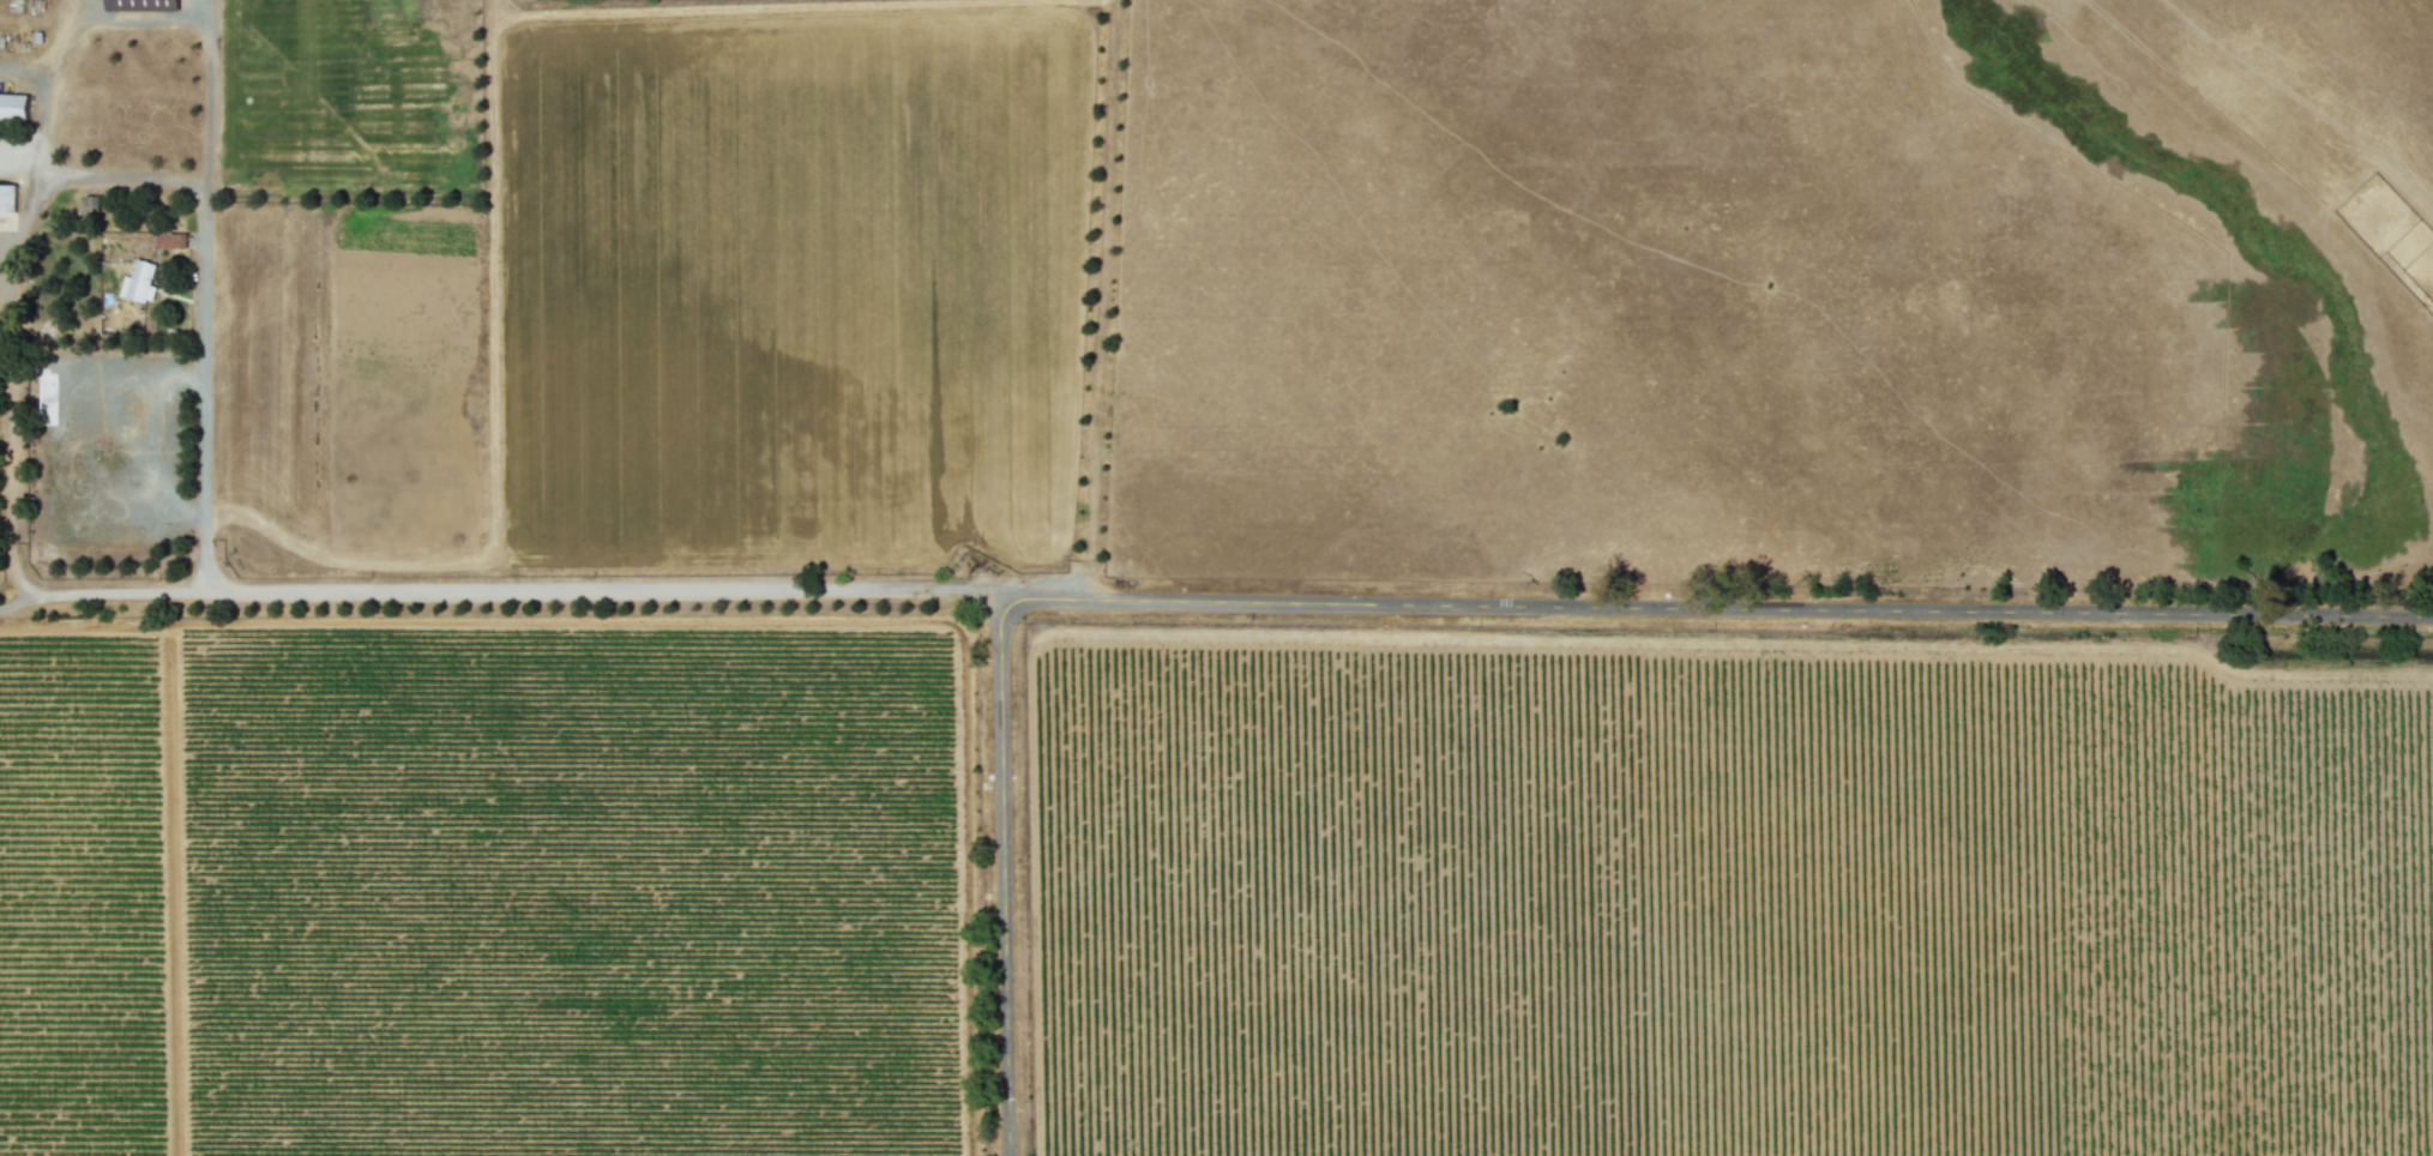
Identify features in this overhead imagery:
building: (120, 4)
building: (167, 4)
building: (13, 106)
road: (104, 175)
building: (7, 197)
building: (88, 203)
road: (206, 242)
building: (139, 279)
road: (147, 441)
road: (8, 444)
crop: (1216, 578)
road: (501, 588)
road: (1717, 608)
road: (562, 619)
road: (1006, 878)

